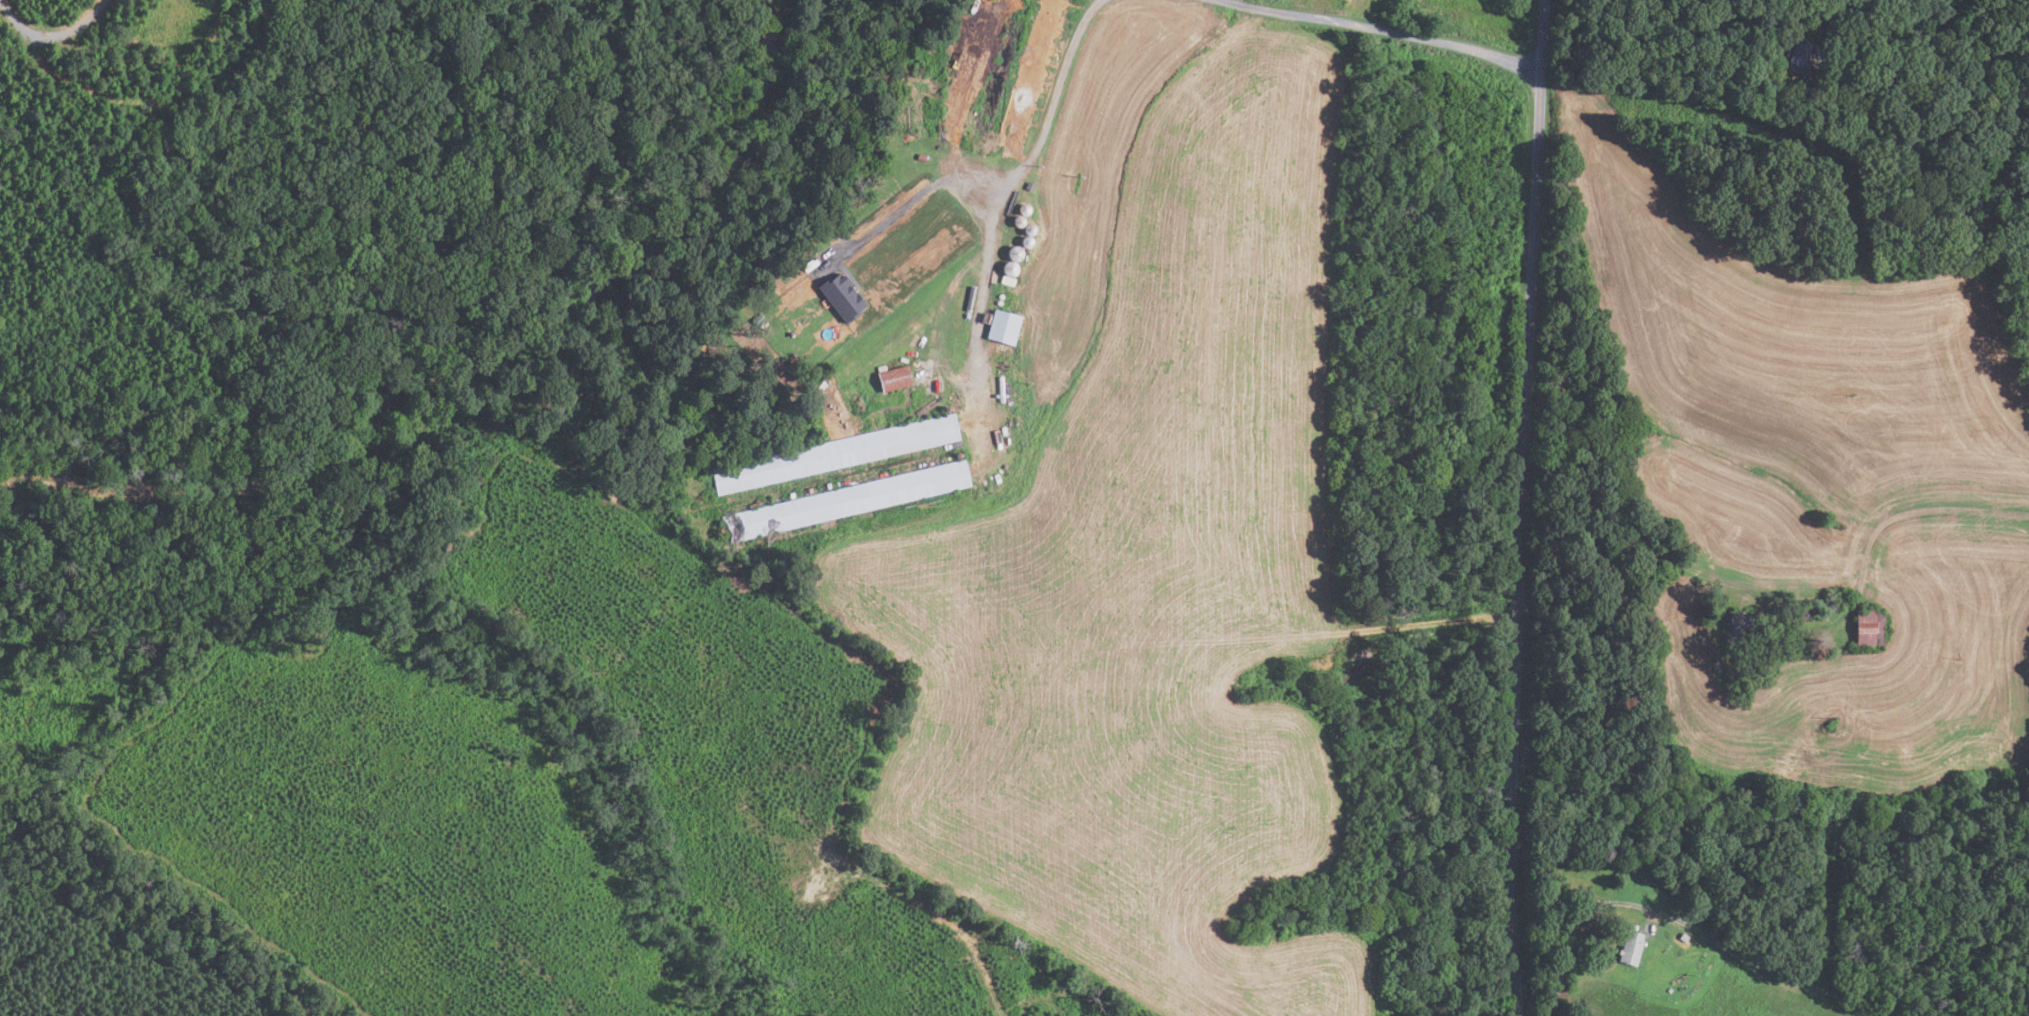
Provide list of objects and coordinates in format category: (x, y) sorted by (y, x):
road: (1367, 33)
road: (51, 34)
building: (1843, 50)
road: (1722, 55)
building: (1799, 56)
building: (921, 157)
road: (1014, 178)
building: (1029, 186)
road: (919, 194)
building: (1022, 208)
silo: (1022, 208)
building: (1017, 221)
silo: (1017, 221)
building: (1028, 229)
silo: (1028, 229)
building: (1025, 241)
silo: (1025, 241)
building: (1013, 253)
silo: (1013, 253)
building: (1008, 268)
silo: (1008, 268)
building: (1006, 280)
building: (840, 297)
building: (757, 320)
building: (1002, 326)
building: (893, 379)
building: (835, 454)
crop: (1824, 483)
building: (845, 501)
road: (1522, 507)
crop: (1144, 553)
road: (1746, 592)
building: (1807, 611)
building: (1735, 627)
building: (1869, 628)
building: (1769, 629)
road: (1360, 631)
building: (1774, 650)
building: (1718, 663)
road: (1689, 923)
building: (1683, 937)
building: (1631, 948)
building: (1669, 990)
crop: (1726, 998)

